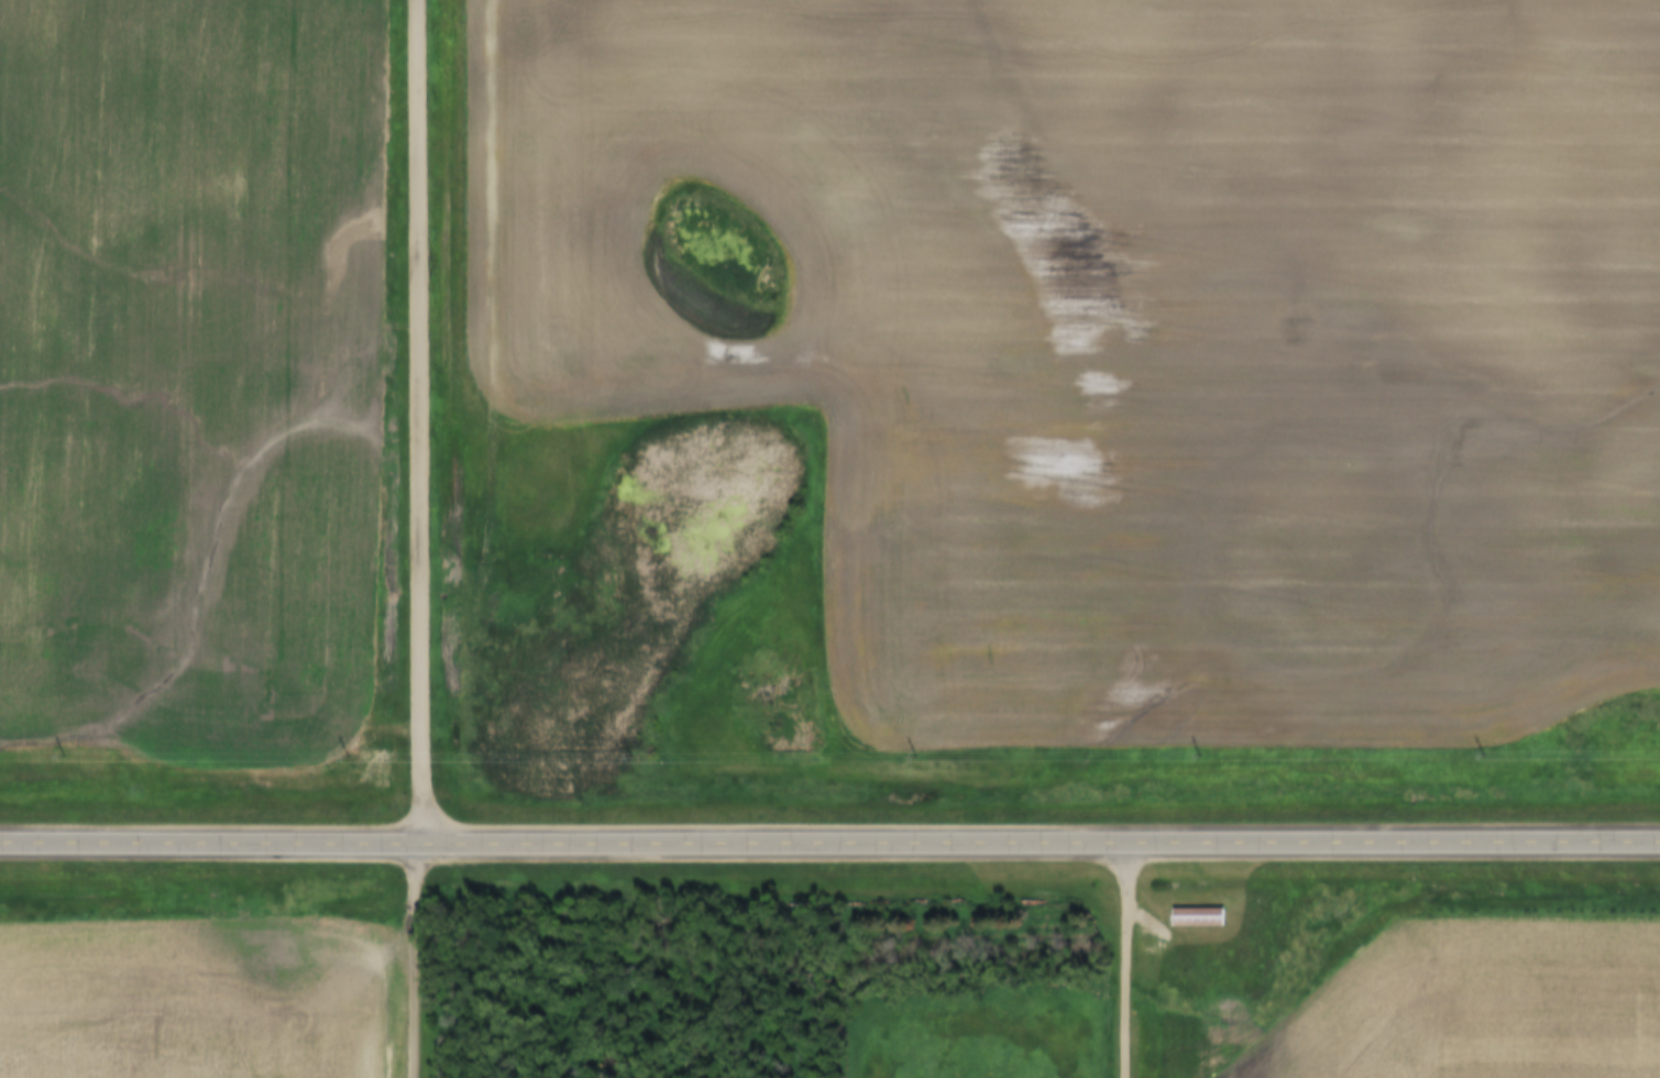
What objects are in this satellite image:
road: (420, 422)
road: (829, 845)
building: (1195, 917)
road: (408, 960)
road: (1126, 960)

